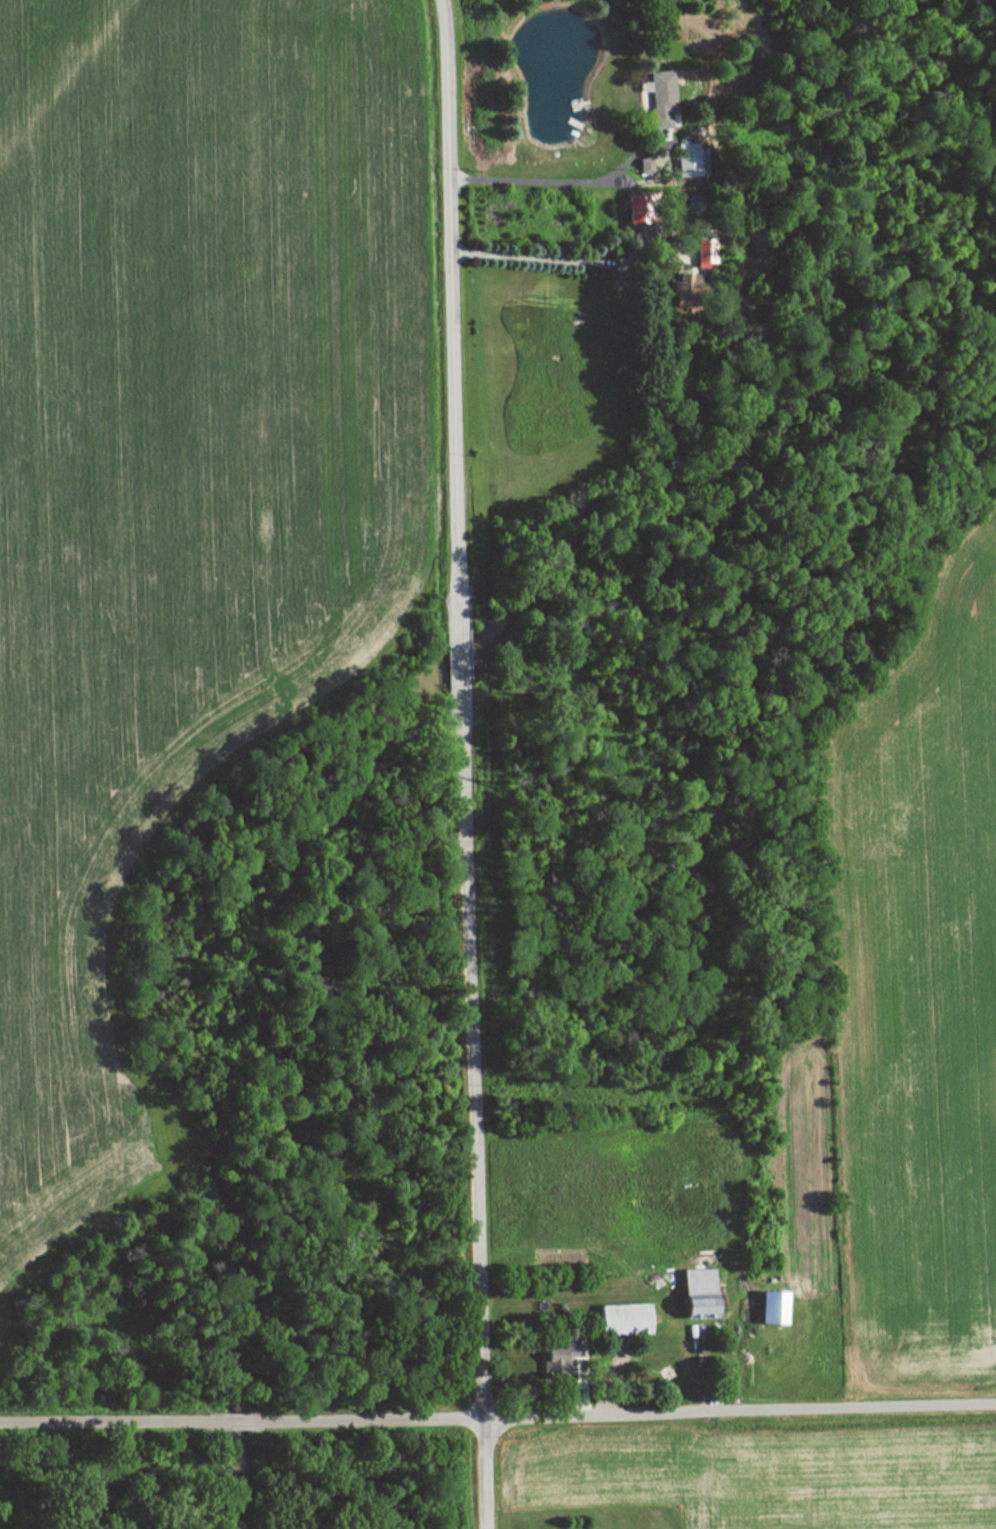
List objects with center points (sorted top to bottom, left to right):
building: (654, 97)
building: (686, 160)
road: (529, 181)
building: (700, 254)
road: (535, 257)
crop: (181, 470)
road: (465, 764)
crop: (920, 961)
building: (693, 1294)
building: (768, 1309)
building: (619, 1320)
building: (559, 1359)
road: (498, 1417)
crop: (767, 1476)

